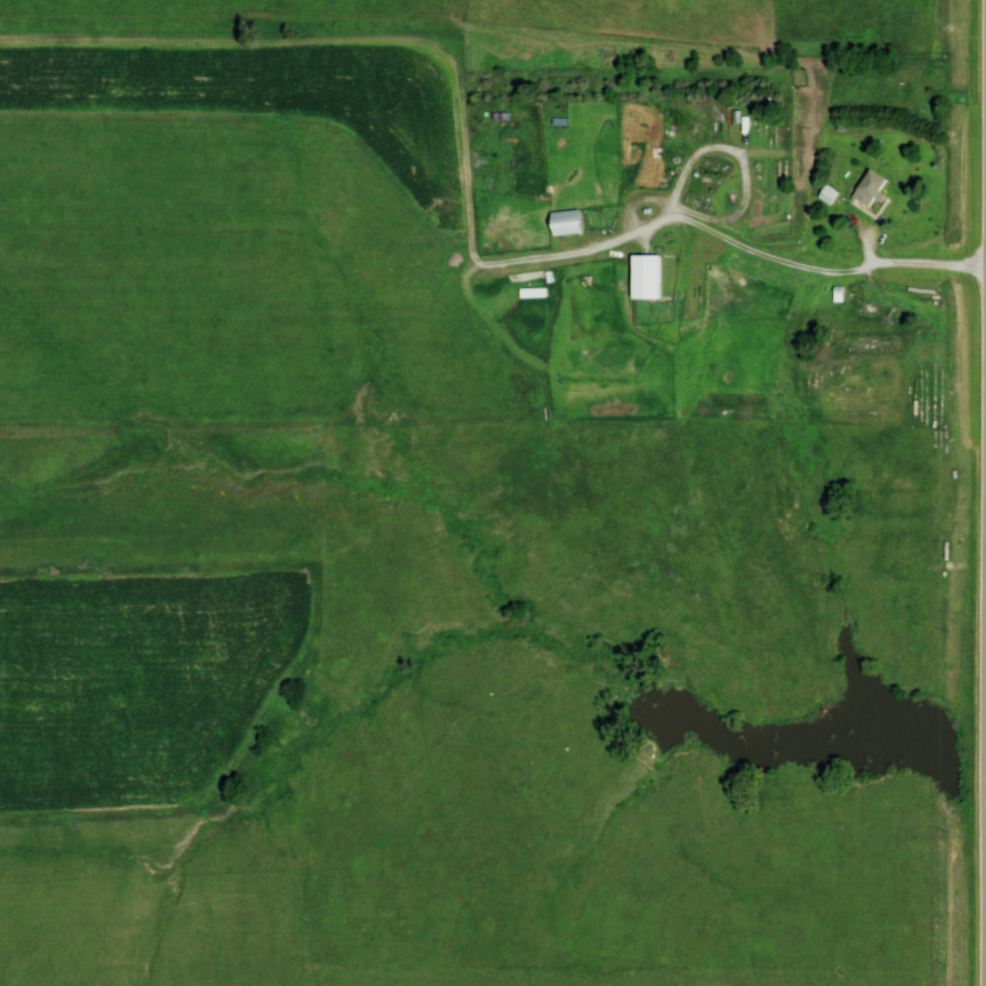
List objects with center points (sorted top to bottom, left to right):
building: (869, 189)
building: (829, 195)
building: (567, 222)
road: (811, 267)
building: (646, 277)

